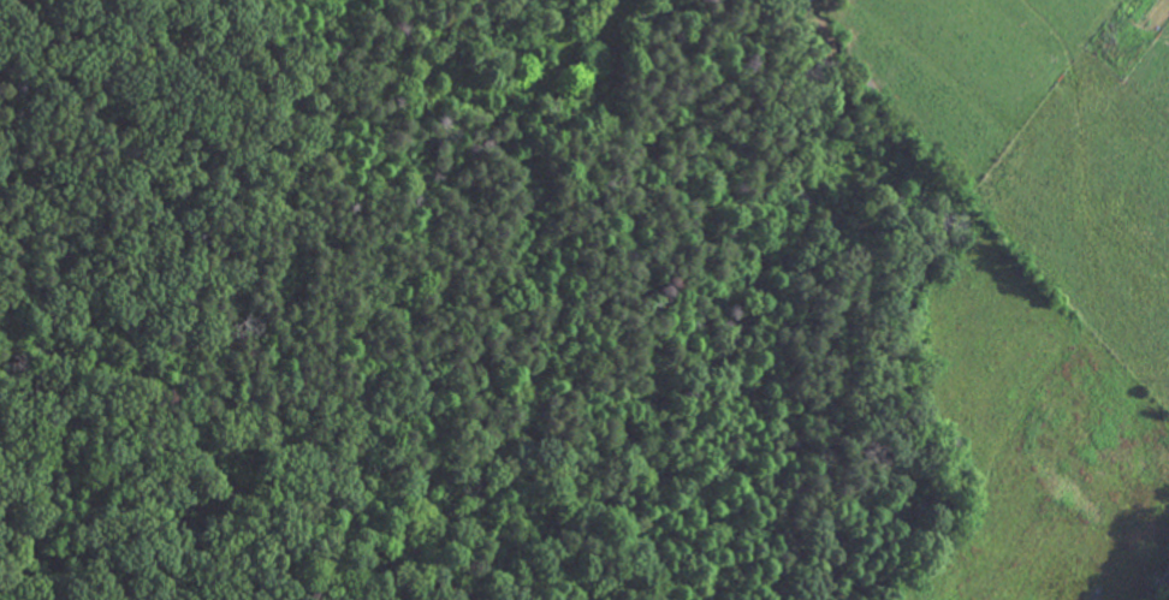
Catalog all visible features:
road: (1161, 582)

